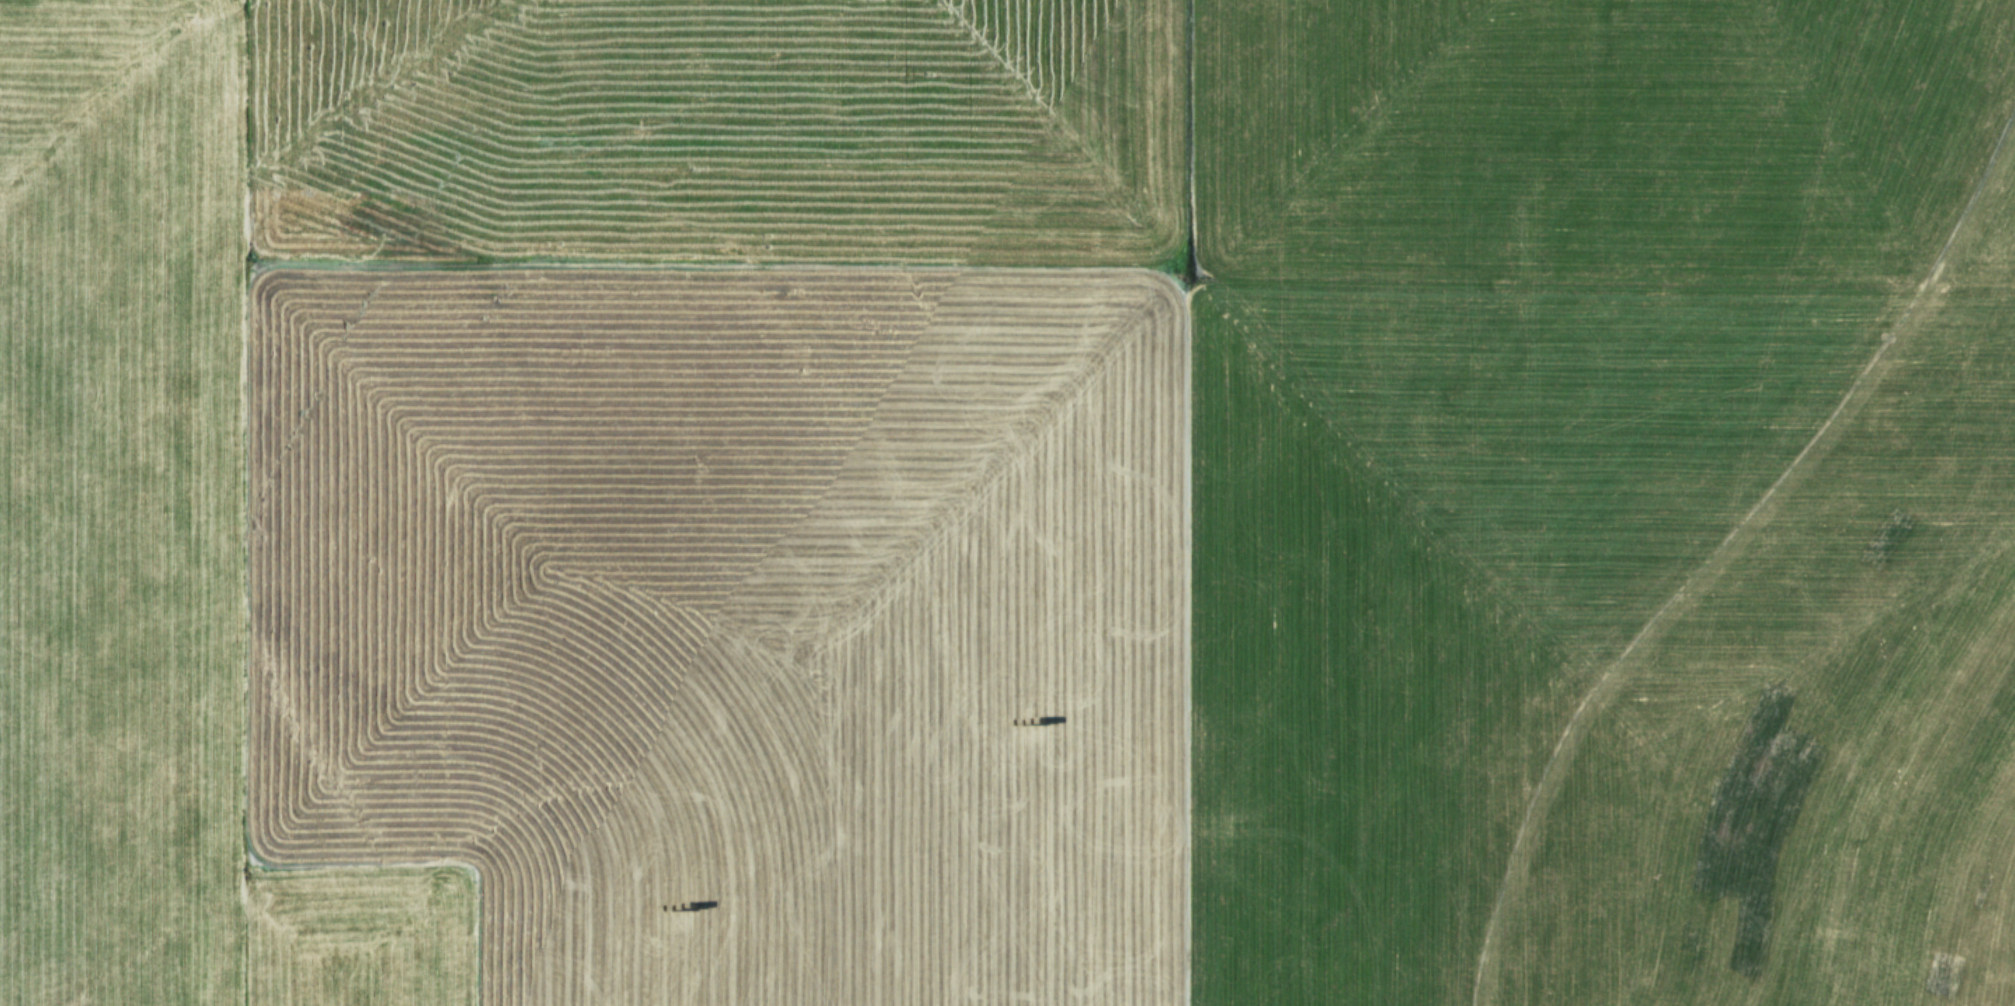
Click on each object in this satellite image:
crop: (1007, 503)

